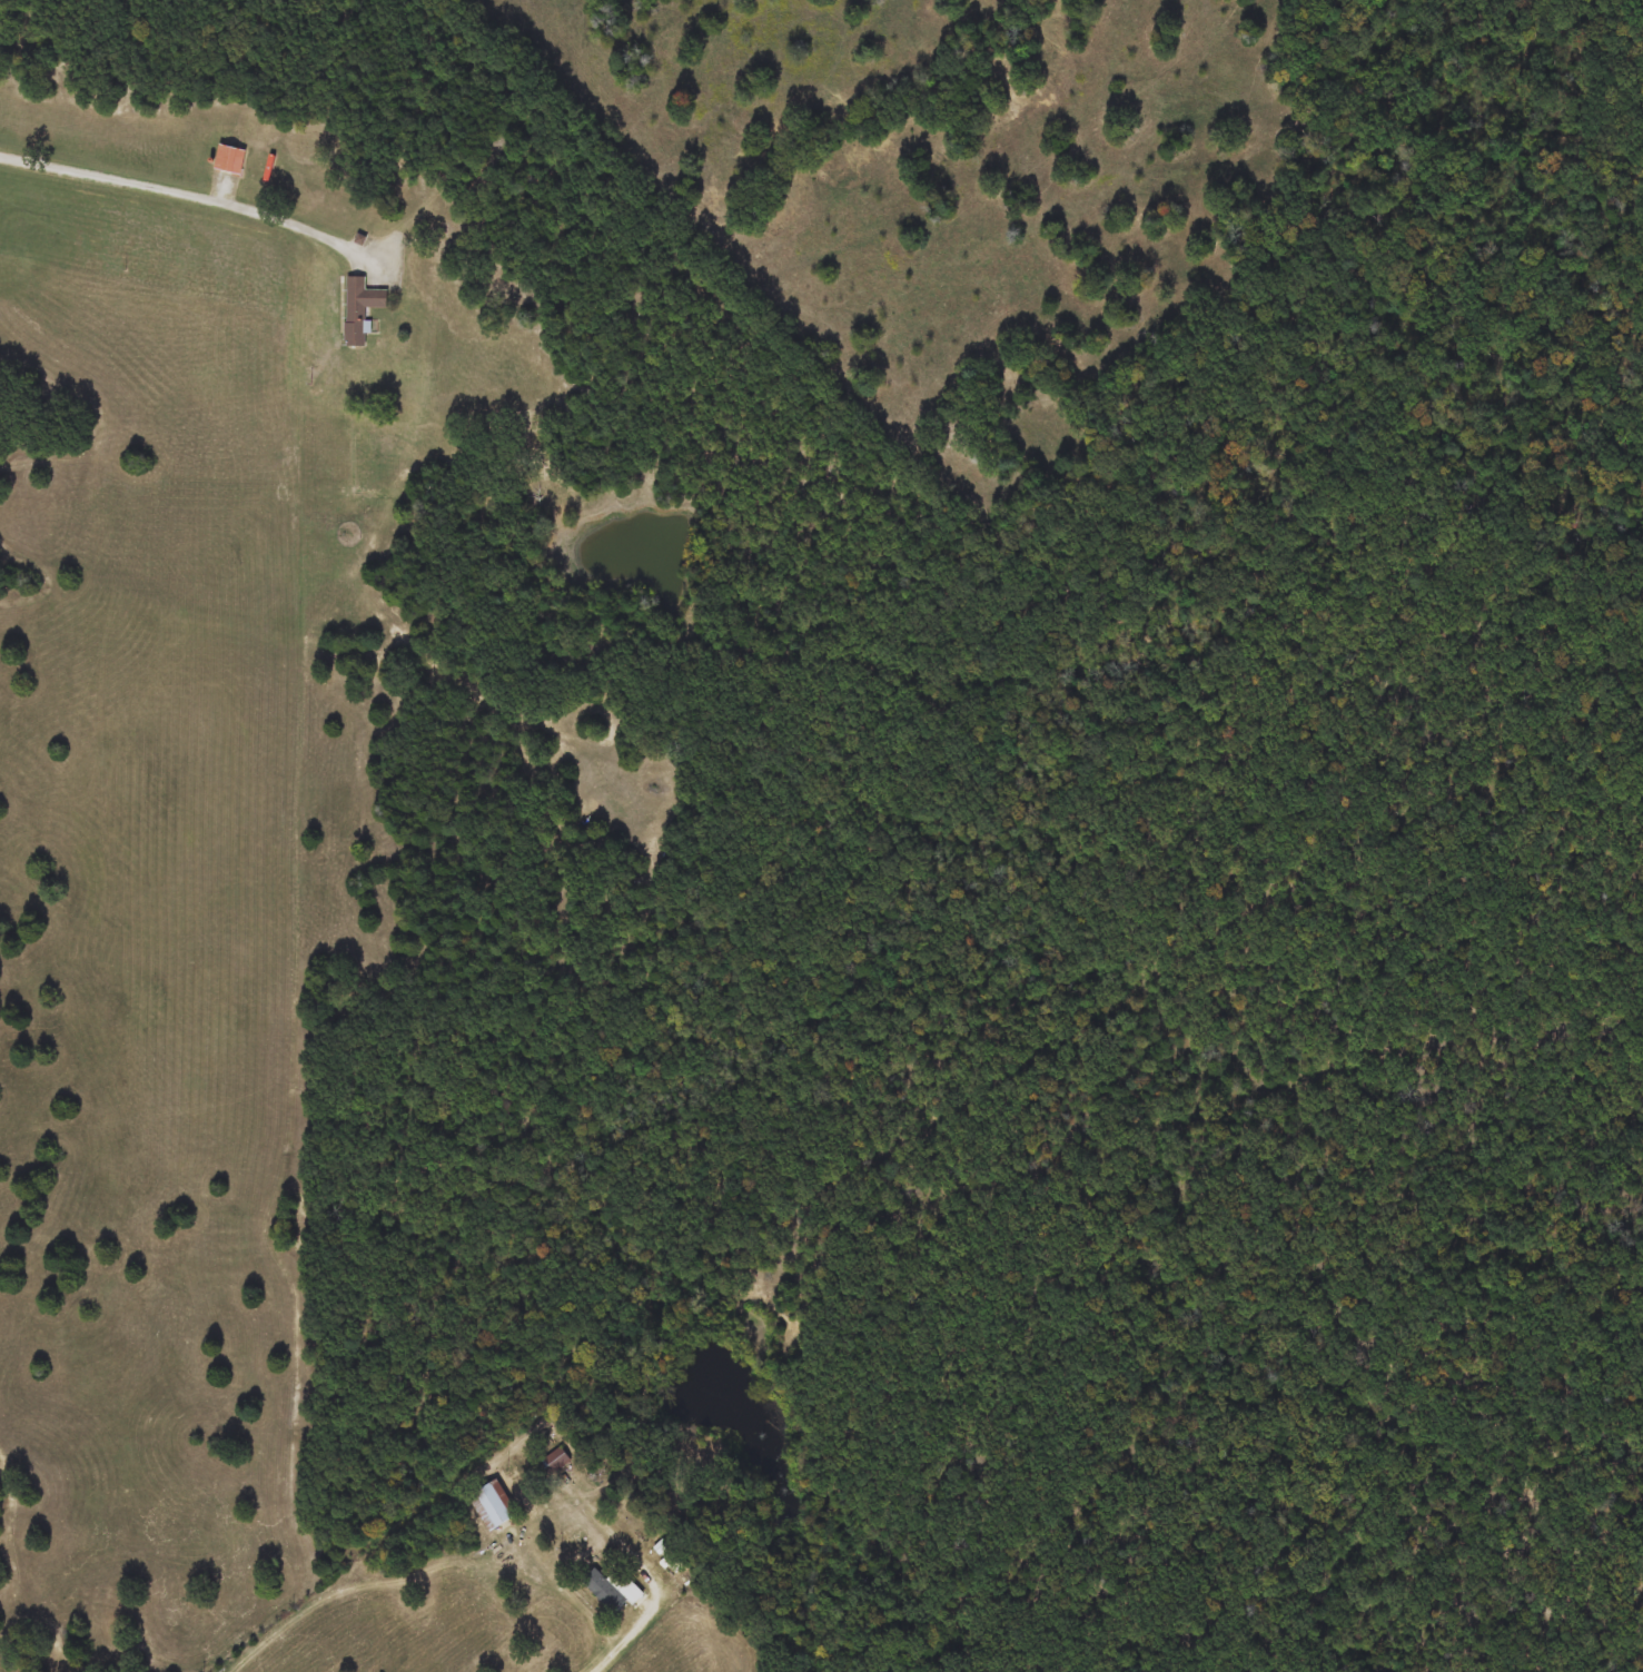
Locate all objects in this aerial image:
building: (230, 161)
road: (192, 195)
building: (360, 309)
building: (555, 1462)
building: (494, 1505)
building: (674, 1562)
road: (653, 1585)
building: (614, 1591)

